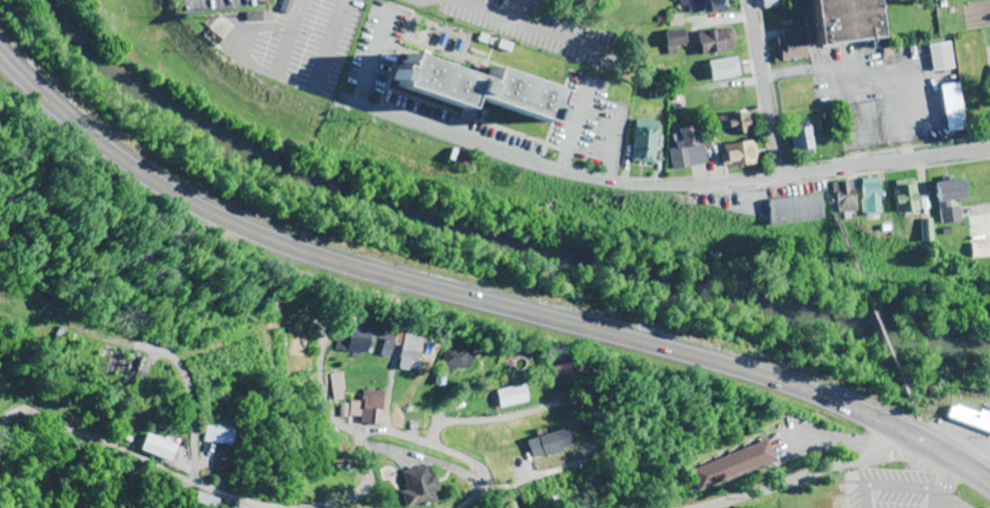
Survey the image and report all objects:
building: (771, 1)
building: (705, 6)
building: (845, 19)
building: (715, 41)
building: (793, 41)
building: (940, 56)
building: (973, 67)
building: (725, 69)
road: (765, 87)
building: (480, 95)
building: (728, 98)
building: (952, 107)
building: (735, 124)
building: (801, 139)
building: (644, 141)
building: (686, 148)
building: (739, 154)
road: (884, 158)
road: (564, 170)
building: (870, 196)
building: (905, 196)
building: (844, 197)
building: (950, 198)
building: (794, 210)
river: (494, 233)
building: (981, 250)
road: (478, 297)
road: (871, 305)
building: (356, 342)
building: (388, 343)
building: (413, 346)
building: (460, 357)
road: (320, 361)
building: (135, 365)
building: (571, 371)
building: (342, 386)
building: (517, 395)
building: (373, 404)
building: (66, 410)
building: (969, 415)
road: (7, 418)
building: (227, 435)
road: (955, 442)
road: (431, 444)
building: (554, 445)
building: (168, 448)
road: (149, 458)
building: (739, 464)
road: (805, 478)
road: (366, 484)
building: (423, 489)
building: (549, 504)
building: (521, 507)

